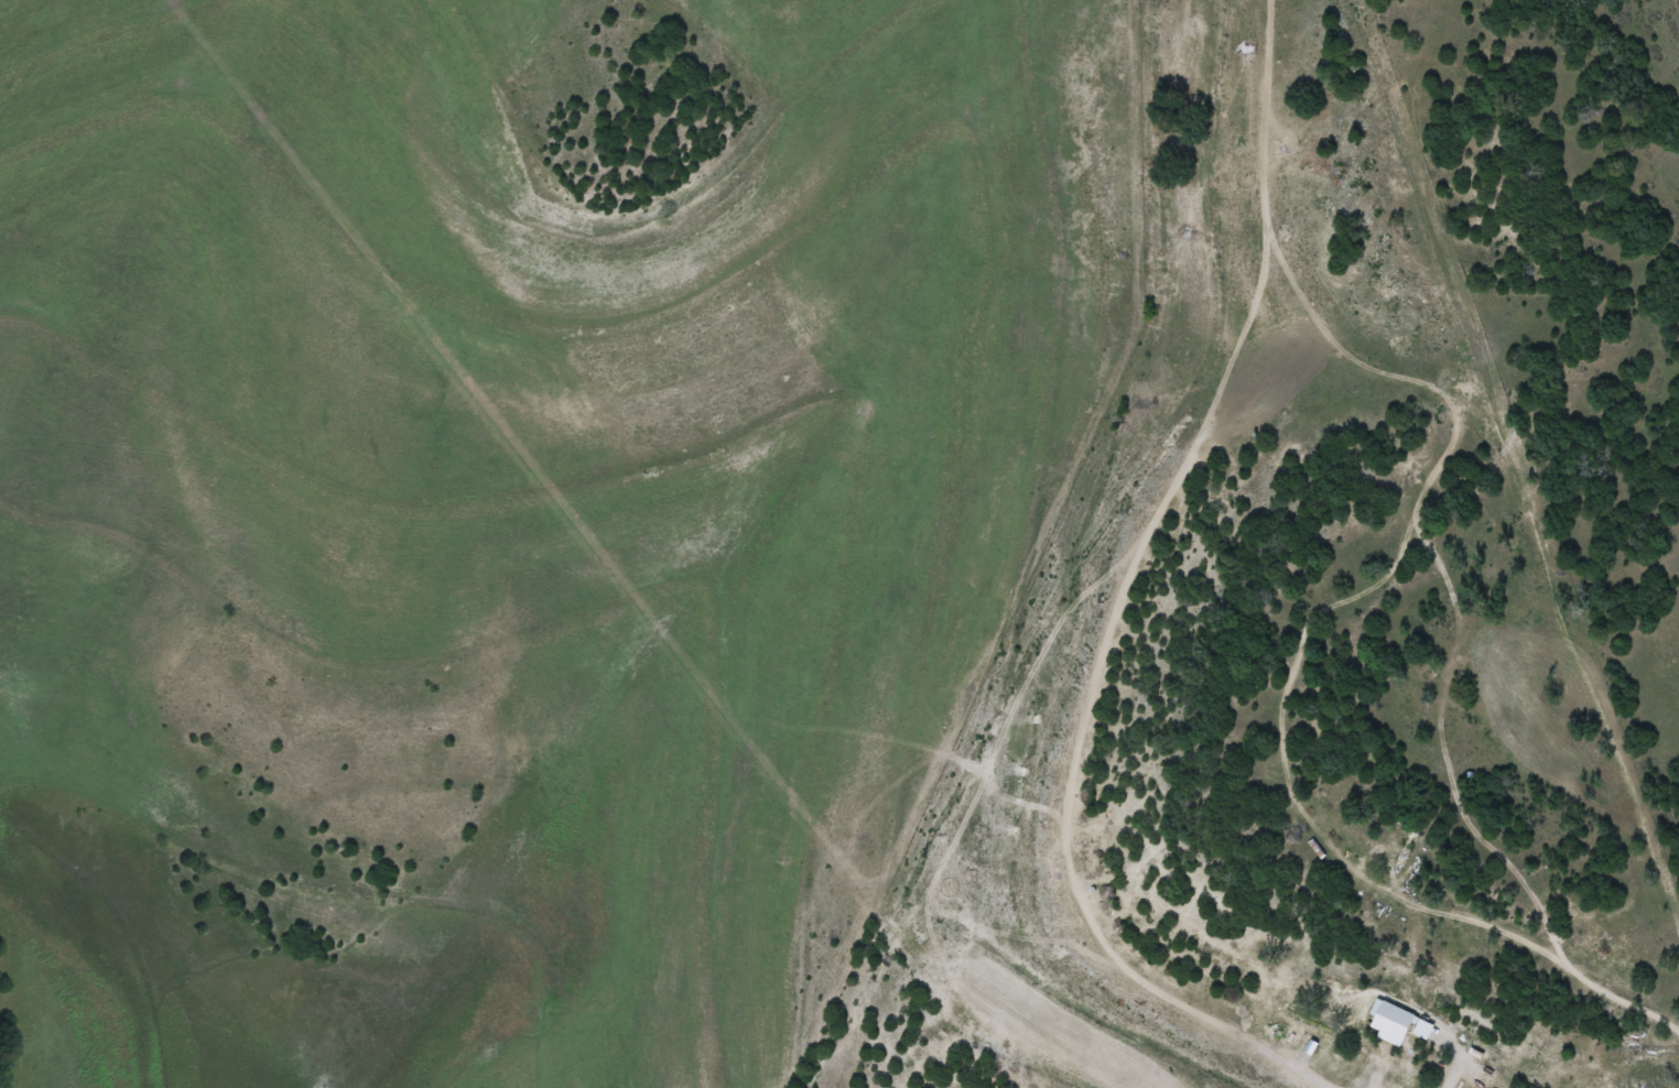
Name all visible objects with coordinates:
road: (1600, 445)
road: (1618, 846)
road: (1407, 909)

